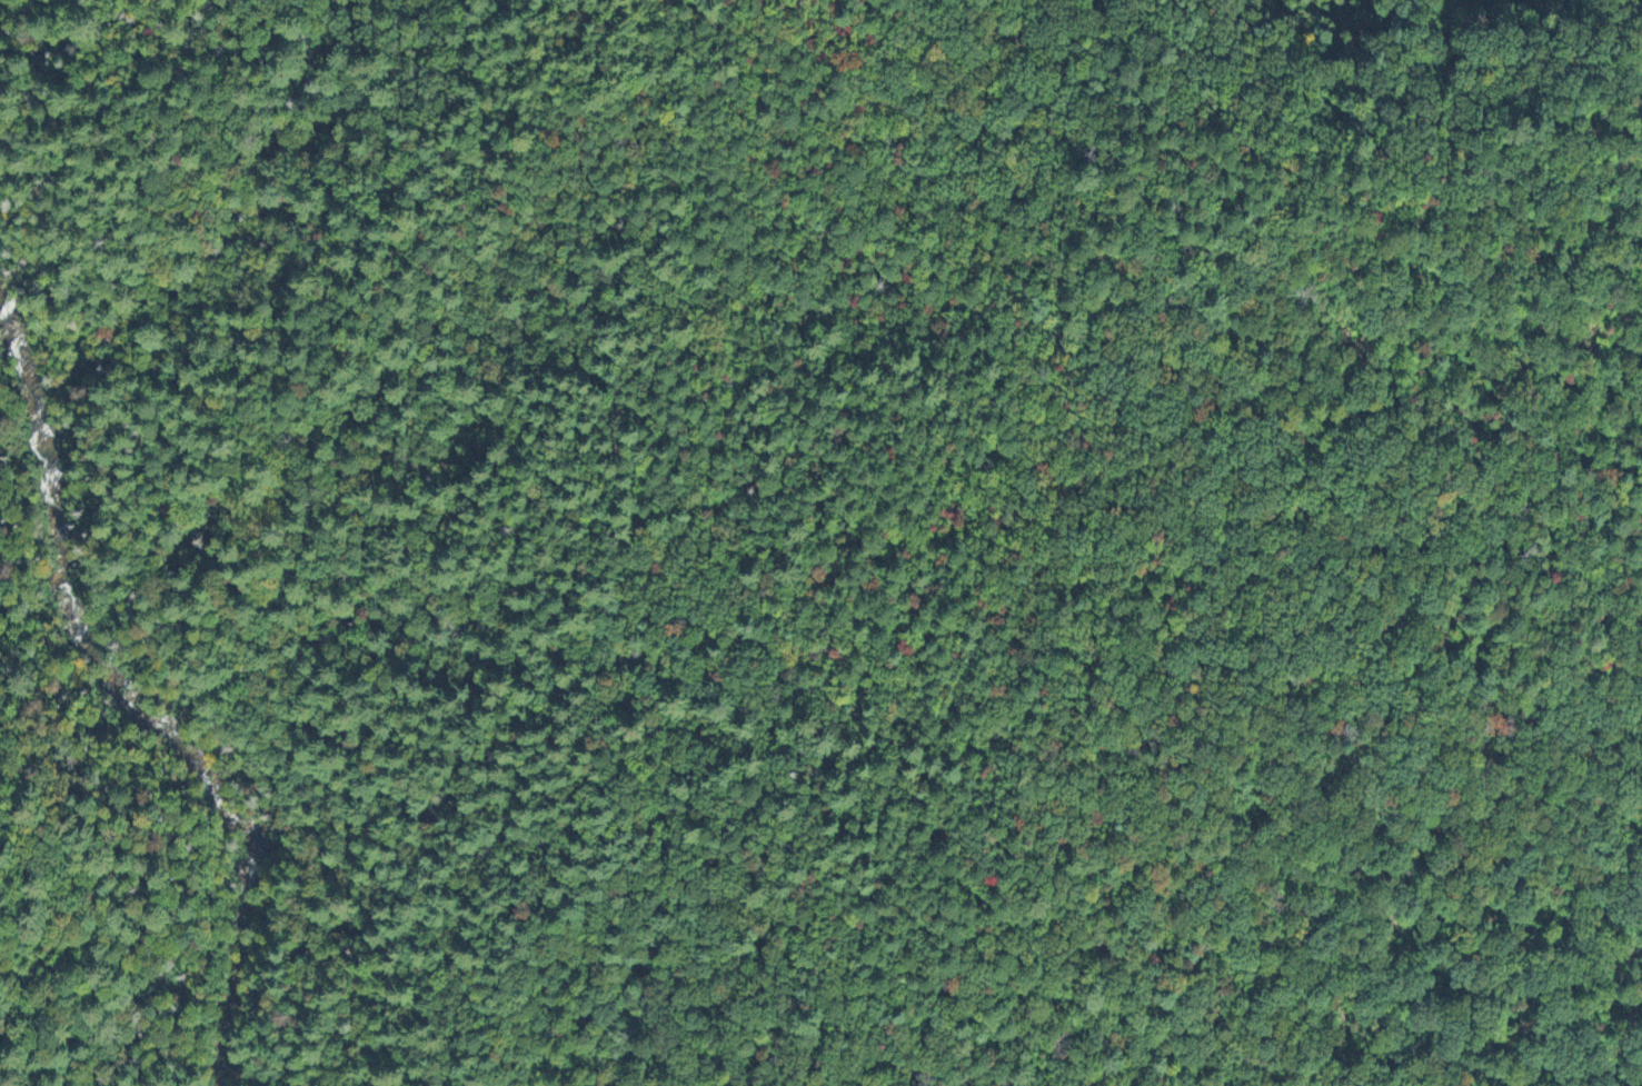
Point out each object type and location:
river: (152, 723)
road: (6, 905)

